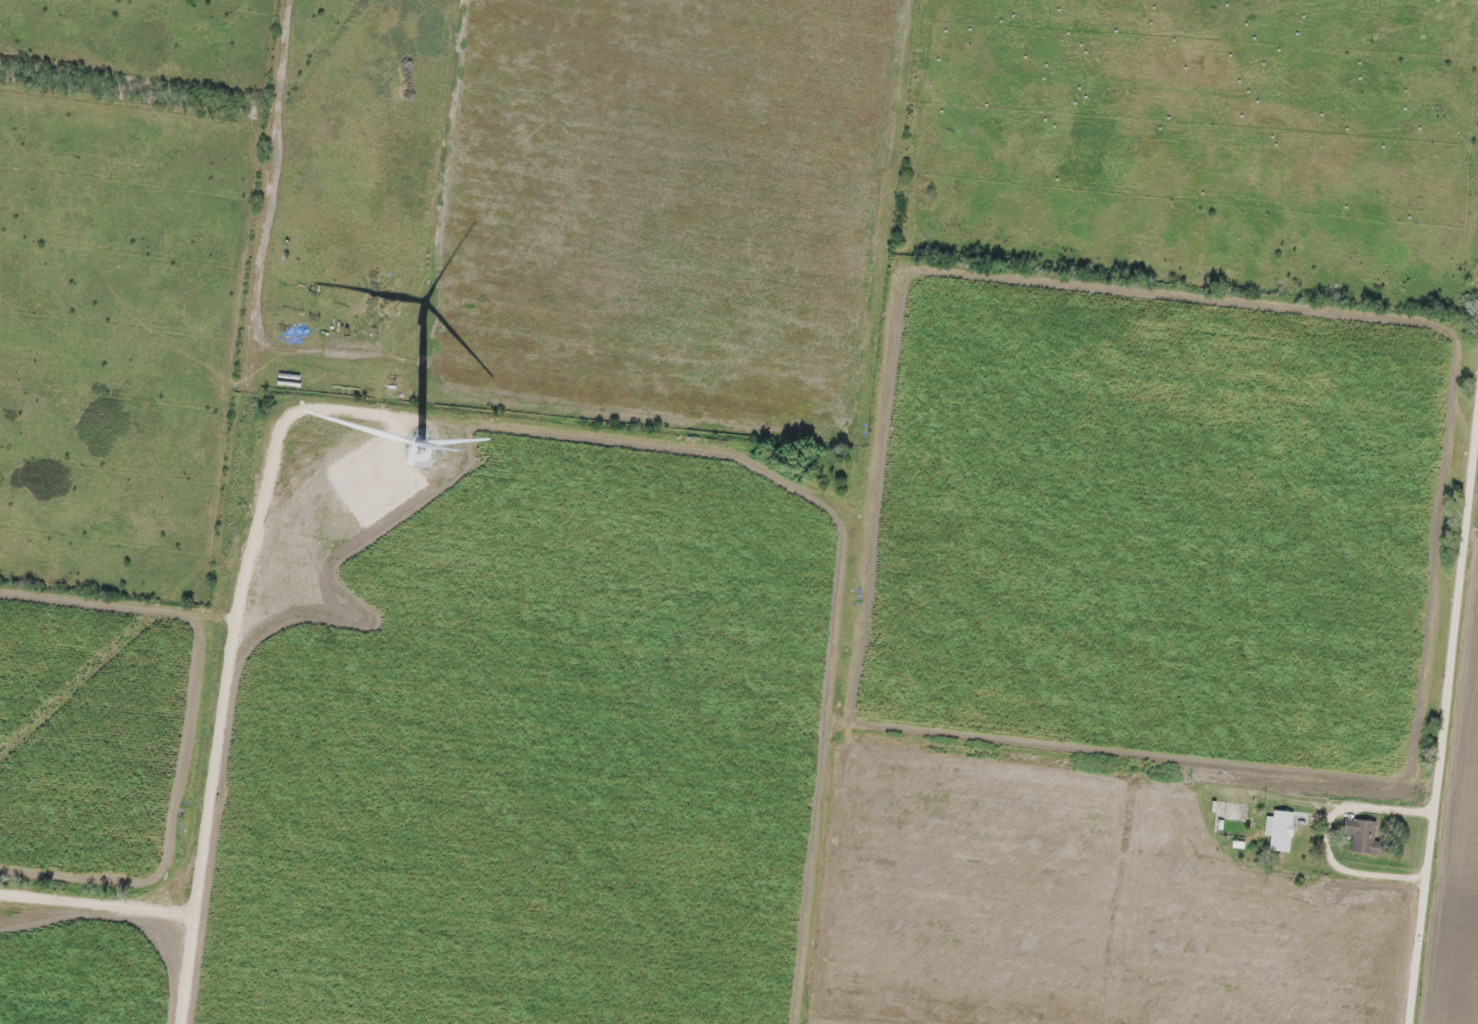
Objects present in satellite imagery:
wind turbine: (421, 444)
road: (1443, 702)
building: (1278, 829)
building: (1361, 834)
road: (1452, 870)

